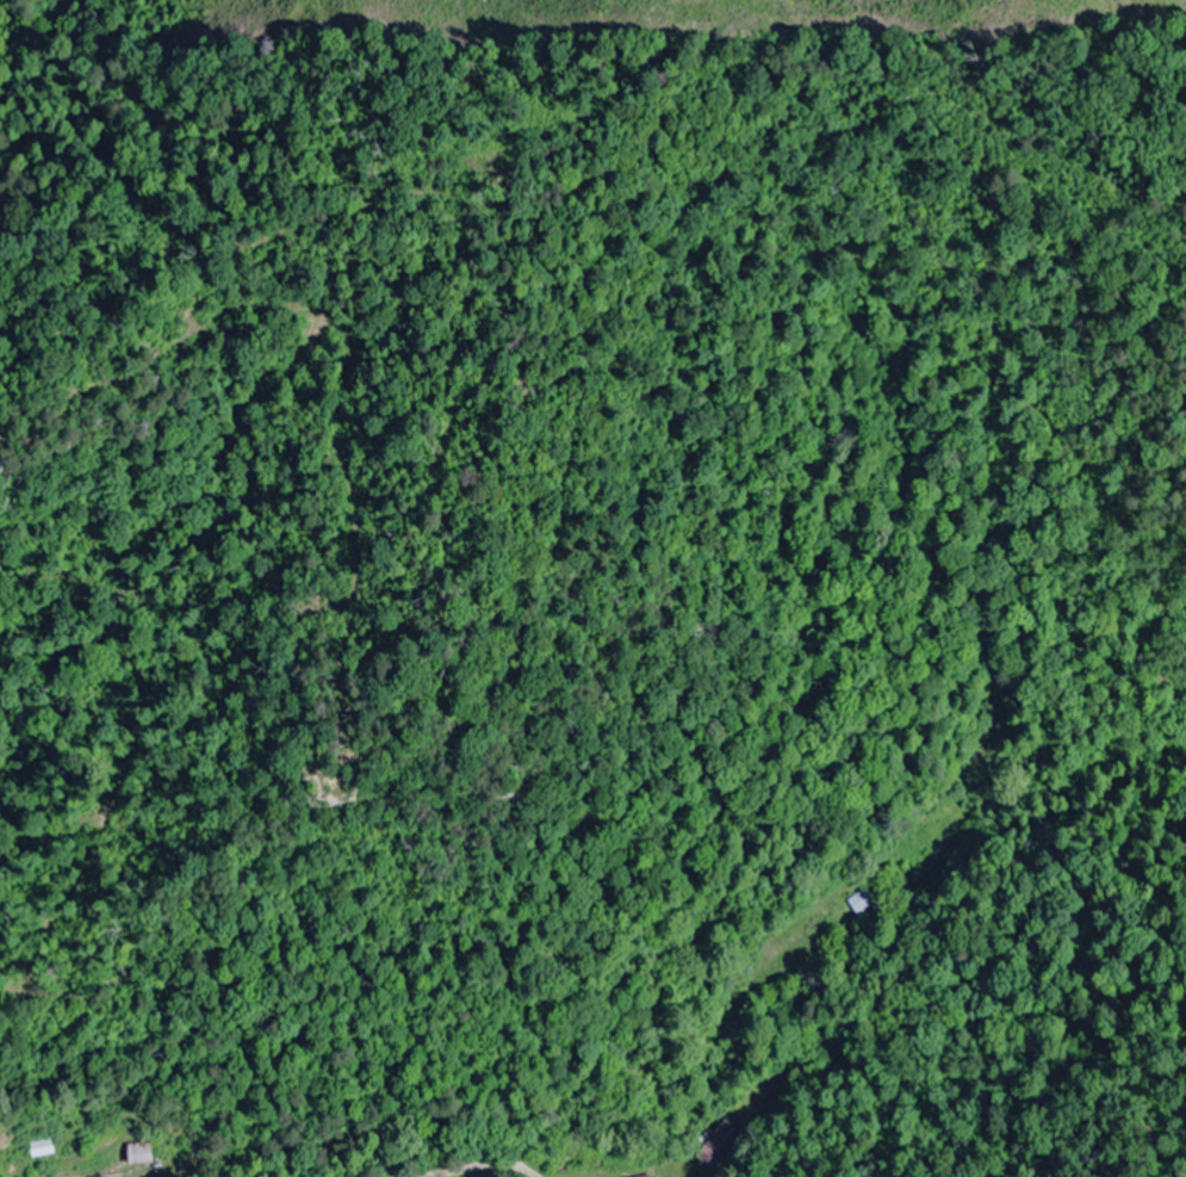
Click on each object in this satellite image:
road: (17, 44)
building: (863, 902)
building: (721, 1145)
building: (141, 1153)
building: (653, 1176)

